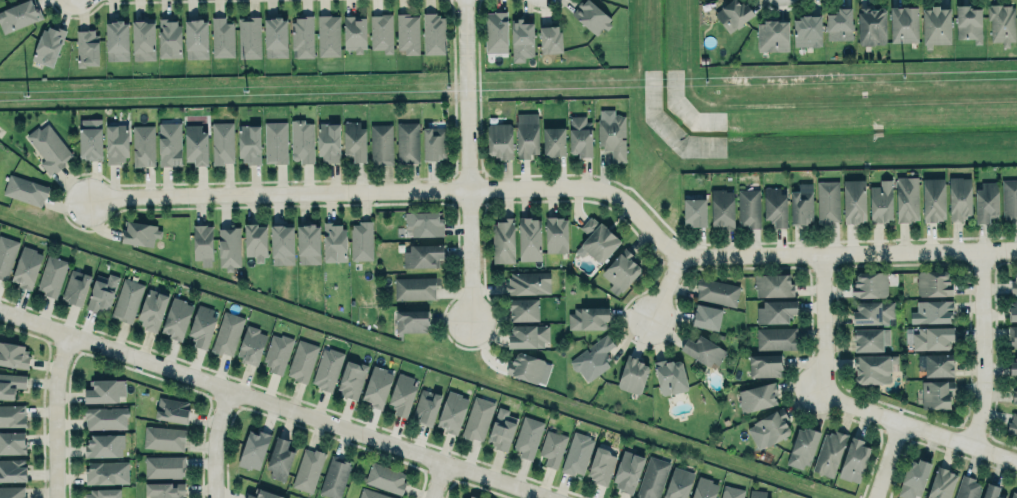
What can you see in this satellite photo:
building: (733, 14)
building: (18, 15)
building: (592, 16)
building: (838, 22)
building: (968, 22)
building: (1001, 23)
building: (903, 24)
building: (937, 25)
building: (871, 26)
building: (496, 31)
building: (806, 31)
building: (354, 32)
building: (381, 32)
building: (407, 33)
building: (433, 33)
building: (327, 34)
building: (195, 35)
building: (302, 35)
building: (772, 35)
building: (168, 37)
building: (222, 37)
building: (248, 37)
building: (275, 37)
building: (142, 39)
building: (521, 39)
building: (550, 39)
building: (116, 40)
building: (49, 44)
building: (86, 47)
building: (527, 134)
building: (579, 135)
building: (613, 135)
building: (90, 138)
building: (499, 139)
building: (301, 140)
building: (354, 140)
building: (328, 141)
building: (554, 141)
building: (116, 142)
building: (222, 142)
building: (248, 142)
building: (275, 142)
building: (407, 142)
building: (169, 143)
building: (433, 143)
building: (196, 144)
building: (380, 144)
building: (143, 145)
building: (49, 147)
road: (468, 163)
building: (25, 189)
road: (397, 190)
building: (959, 197)
building: (906, 198)
building: (933, 199)
building: (1008, 199)
building: (853, 200)
building: (827, 201)
building: (880, 201)
building: (986, 201)
building: (801, 204)
building: (746, 205)
building: (774, 205)
building: (722, 208)
building: (694, 212)
building: (423, 222)
building: (139, 232)
building: (556, 234)
building: (529, 238)
building: (598, 239)
building: (255, 240)
building: (361, 240)
building: (503, 240)
building: (281, 242)
building: (334, 242)
building: (202, 243)
building: (308, 243)
building: (228, 247)
road: (849, 252)
building: (6, 254)
building: (423, 254)
building: (27, 266)
building: (621, 271)
building: (52, 275)
building: (528, 283)
building: (932, 283)
building: (870, 284)
building: (1013, 284)
building: (772, 285)
building: (77, 286)
building: (414, 288)
road: (668, 288)
building: (716, 291)
building: (101, 293)
building: (126, 300)
building: (151, 309)
building: (523, 309)
building: (1012, 309)
building: (774, 311)
building: (931, 311)
building: (872, 312)
building: (707, 314)
building: (176, 317)
building: (587, 317)
building: (411, 321)
road: (826, 324)
building: (201, 325)
building: (227, 333)
building: (1012, 335)
building: (528, 336)
building: (776, 337)
building: (932, 338)
building: (867, 339)
building: (250, 344)
road: (984, 348)
building: (703, 350)
building: (276, 353)
building: (13, 354)
building: (592, 359)
building: (302, 360)
building: (938, 364)
building: (764, 365)
building: (1013, 366)
building: (525, 367)
building: (326, 368)
building: (873, 368)
building: (633, 374)
building: (670, 376)
building: (352, 379)
building: (11, 384)
building: (376, 385)
building: (105, 390)
building: (1014, 391)
building: (936, 393)
building: (402, 394)
building: (757, 397)
road: (274, 403)
building: (426, 406)
building: (173, 408)
building: (451, 412)
road: (56, 414)
building: (12, 415)
building: (106, 417)
building: (477, 418)
building: (1012, 424)
building: (769, 427)
road: (923, 428)
building: (502, 429)
building: (527, 436)
building: (165, 437)
building: (12, 442)
road: (216, 442)
building: (105, 444)
building: (552, 447)
building: (802, 447)
building: (253, 449)
building: (828, 451)
building: (577, 453)
building: (279, 459)
building: (853, 459)
road: (889, 459)
building: (601, 465)
building: (164, 466)
building: (13, 469)
building: (307, 469)
building: (107, 471)
building: (627, 471)
building: (334, 477)
building: (385, 477)
building: (652, 477)
building: (913, 478)
road: (439, 480)
building: (940, 482)
building: (678, 484)
building: (967, 487)
building: (704, 488)
building: (164, 490)
building: (991, 490)
building: (12, 492)
building: (730, 492)
building: (104, 493)
building: (372, 493)
building: (758, 493)
building: (262, 494)
building: (1013, 495)
building: (472, 497)

